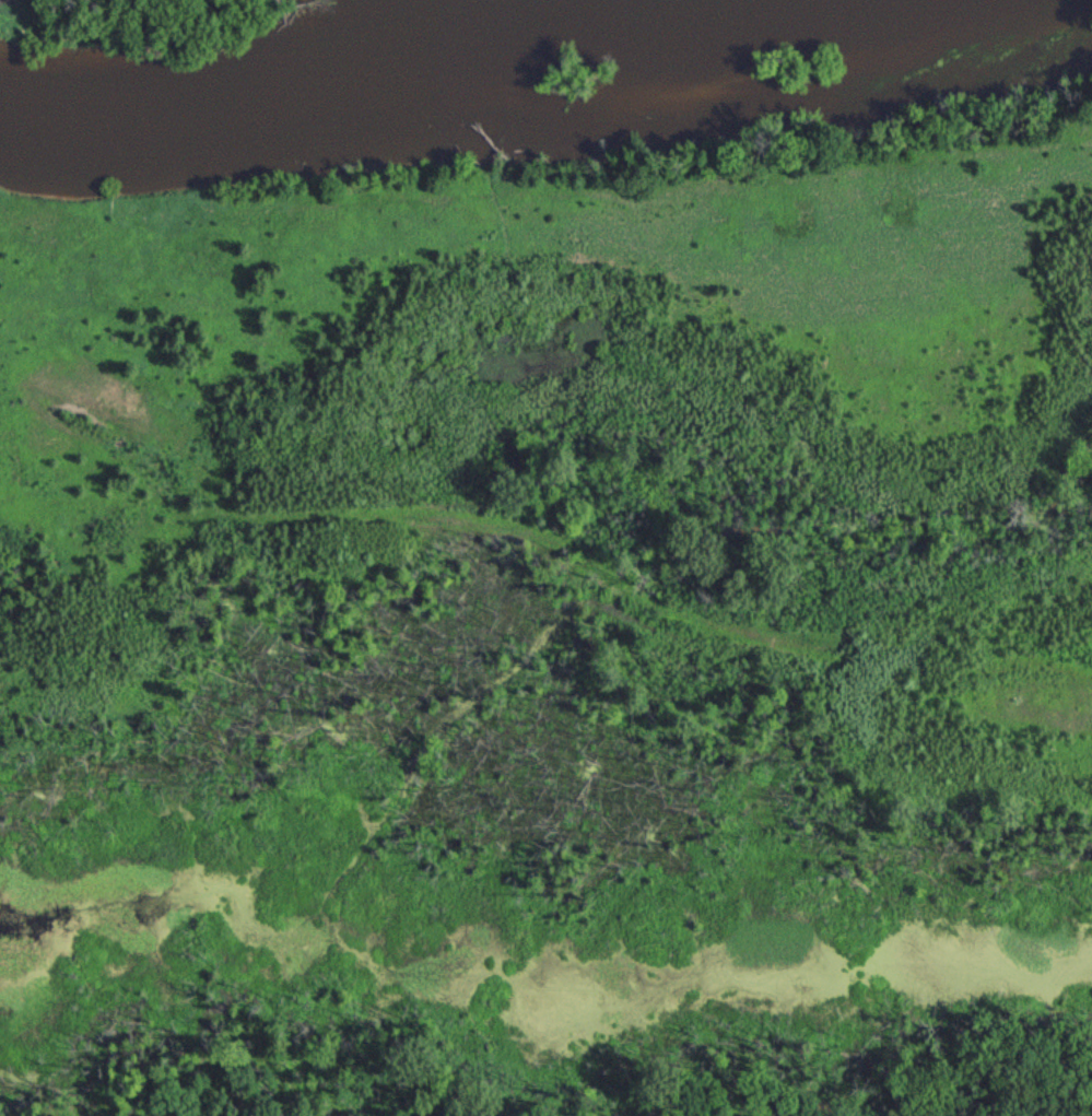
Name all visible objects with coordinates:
river: (420, 77)

